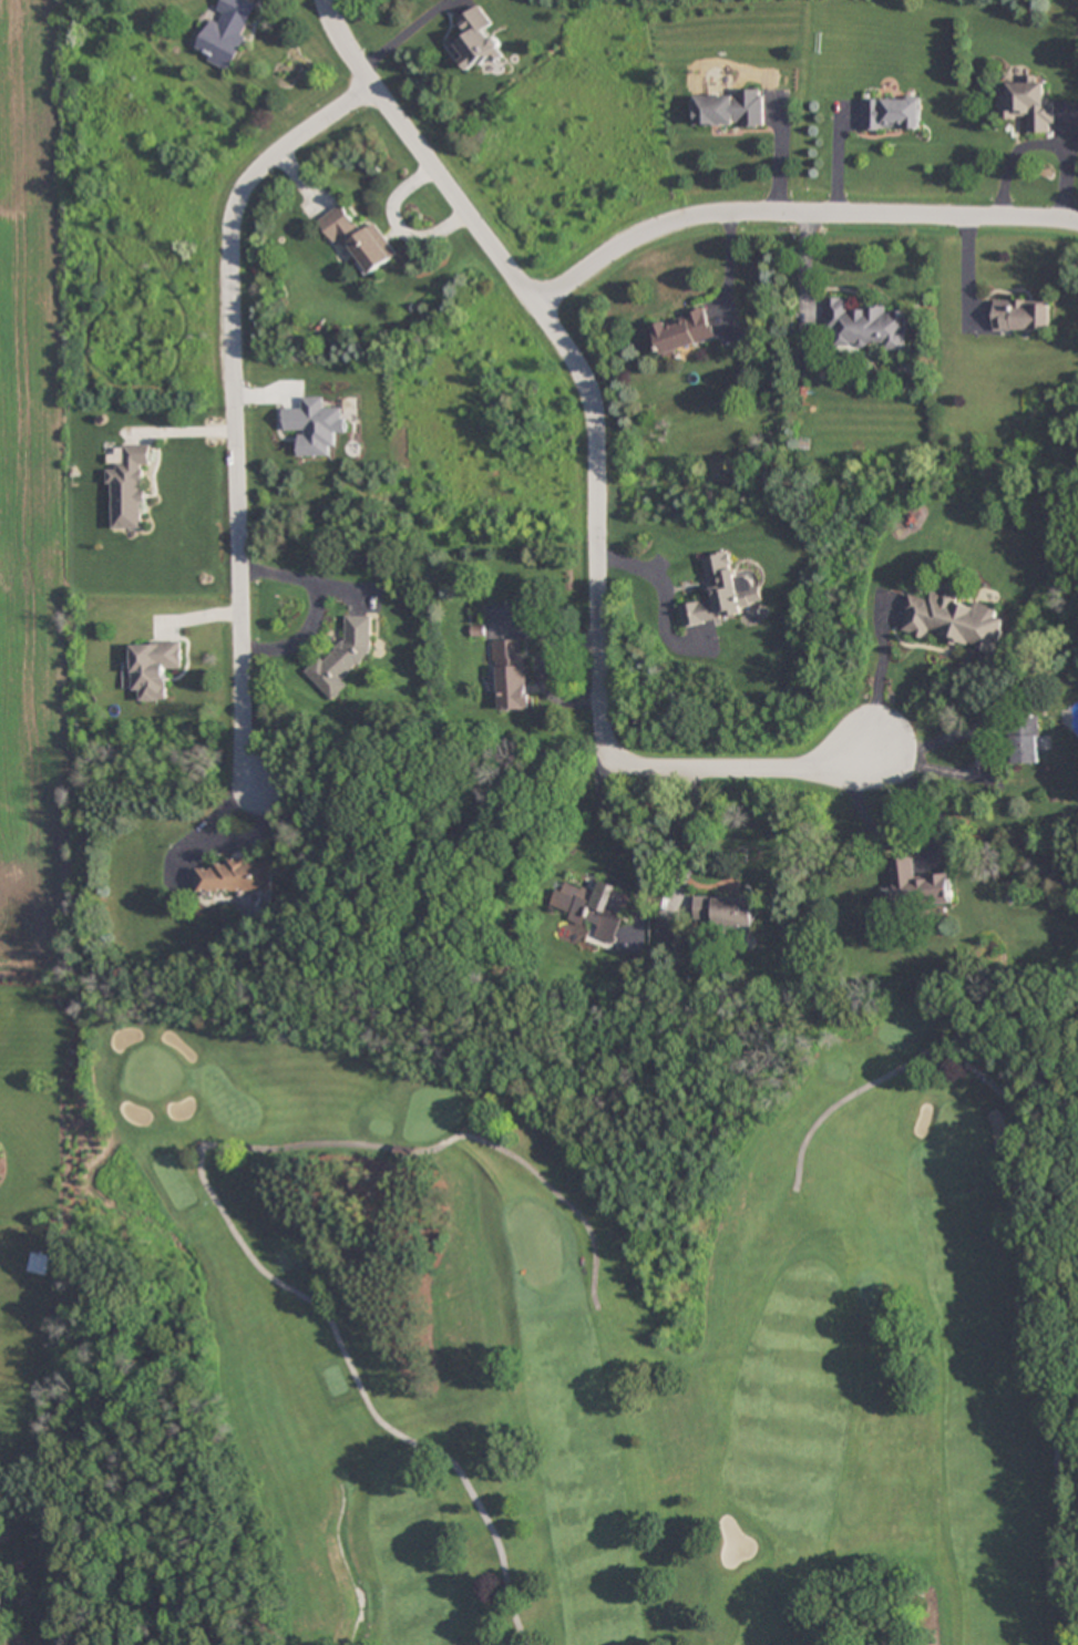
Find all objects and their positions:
building: (227, 32)
building: (473, 39)
road: (348, 47)
building: (1027, 105)
building: (731, 110)
building: (890, 113)
road: (793, 213)
building: (360, 241)
building: (1021, 316)
building: (864, 326)
building: (684, 332)
road: (236, 405)
building: (130, 487)
crop: (31, 500)
road: (597, 522)
building: (722, 594)
building: (954, 623)
building: (342, 658)
building: (153, 667)
building: (511, 676)
building: (1024, 740)
building: (234, 878)
building: (914, 888)
building: (594, 908)
building: (723, 912)
building: (668, 931)
road: (213, 1200)
road: (1034, 1217)
park: (572, 1307)
road: (342, 1561)
building: (2, 1604)

